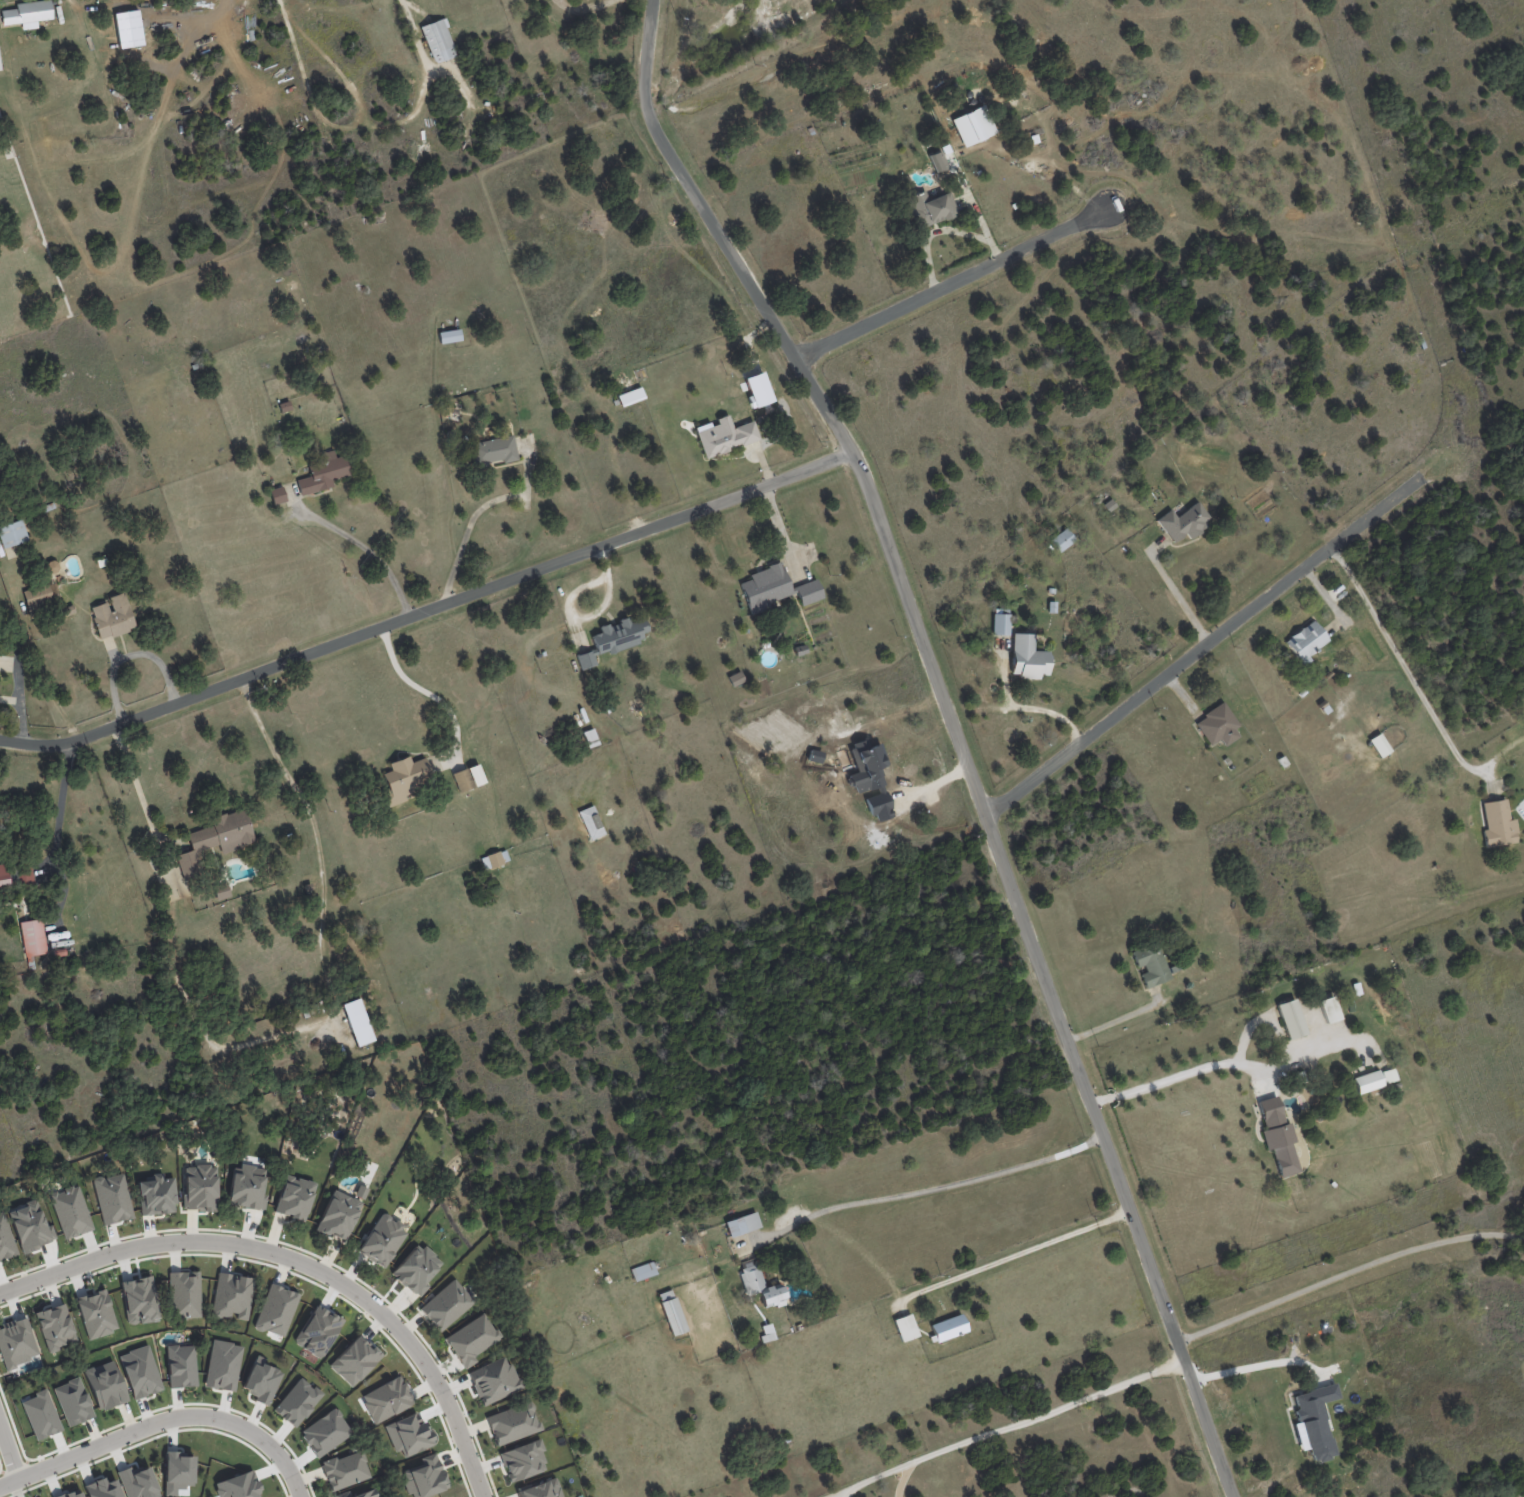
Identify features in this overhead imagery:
building: (25, 13)
building: (438, 40)
building: (973, 125)
building: (938, 161)
road: (977, 195)
building: (929, 208)
road: (949, 226)
road: (952, 283)
building: (449, 336)
building: (725, 436)
building: (494, 450)
building: (323, 473)
building: (277, 495)
building: (1109, 505)
building: (1183, 522)
road: (468, 525)
building: (12, 533)
building: (1061, 539)
road: (362, 549)
building: (51, 566)
building: (765, 587)
building: (808, 592)
road: (1177, 594)
building: (40, 595)
road: (427, 610)
building: (112, 616)
building: (1000, 624)
building: (619, 634)
building: (1305, 642)
road: (1204, 646)
building: (1027, 657)
building: (586, 659)
building: (735, 678)
road: (422, 686)
road: (1416, 688)
building: (1217, 725)
road: (955, 735)
building: (590, 737)
building: (1379, 745)
building: (468, 778)
building: (404, 779)
road: (146, 809)
building: (591, 822)
building: (1497, 824)
building: (215, 840)
road: (317, 841)
building: (494, 859)
road: (55, 862)
building: (23, 874)
building: (4, 886)
building: (221, 891)
building: (31, 939)
building: (59, 952)
building: (1150, 964)
building: (1332, 1014)
building: (1291, 1019)
road: (1114, 1021)
building: (357, 1022)
building: (1389, 1075)
road: (1176, 1076)
building: (1367, 1081)
building: (1278, 1136)
road: (933, 1185)
building: (199, 1187)
building: (247, 1187)
building: (360, 1192)
building: (156, 1195)
building: (294, 1197)
building: (112, 1198)
building: (70, 1211)
building: (338, 1215)
building: (742, 1224)
building: (5, 1239)
building: (382, 1240)
road: (244, 1242)
road: (1014, 1253)
building: (416, 1269)
building: (643, 1271)
road: (1346, 1272)
building: (761, 1287)
building: (184, 1294)
building: (232, 1296)
building: (446, 1304)
building: (275, 1310)
building: (671, 1312)
building: (96, 1314)
building: (55, 1327)
building: (905, 1327)
building: (948, 1327)
building: (766, 1332)
building: (471, 1339)
building: (354, 1360)
building: (223, 1365)
building: (181, 1366)
road: (1259, 1370)
building: (140, 1372)
building: (261, 1380)
building: (494, 1380)
building: (105, 1385)
building: (386, 1399)
building: (73, 1402)
building: (297, 1402)
building: (40, 1415)
road: (1028, 1417)
building: (1314, 1421)
road: (148, 1422)
building: (512, 1423)
building: (325, 1432)
building: (408, 1434)
road: (460, 1443)
road: (7, 1458)
building: (523, 1460)
building: (345, 1470)
building: (178, 1472)
road: (869, 1472)
building: (425, 1477)
building: (138, 1482)
road: (292, 1485)
building: (238, 1486)
building: (102, 1488)
building: (541, 1489)
building: (72, 1494)
building: (358, 1494)

